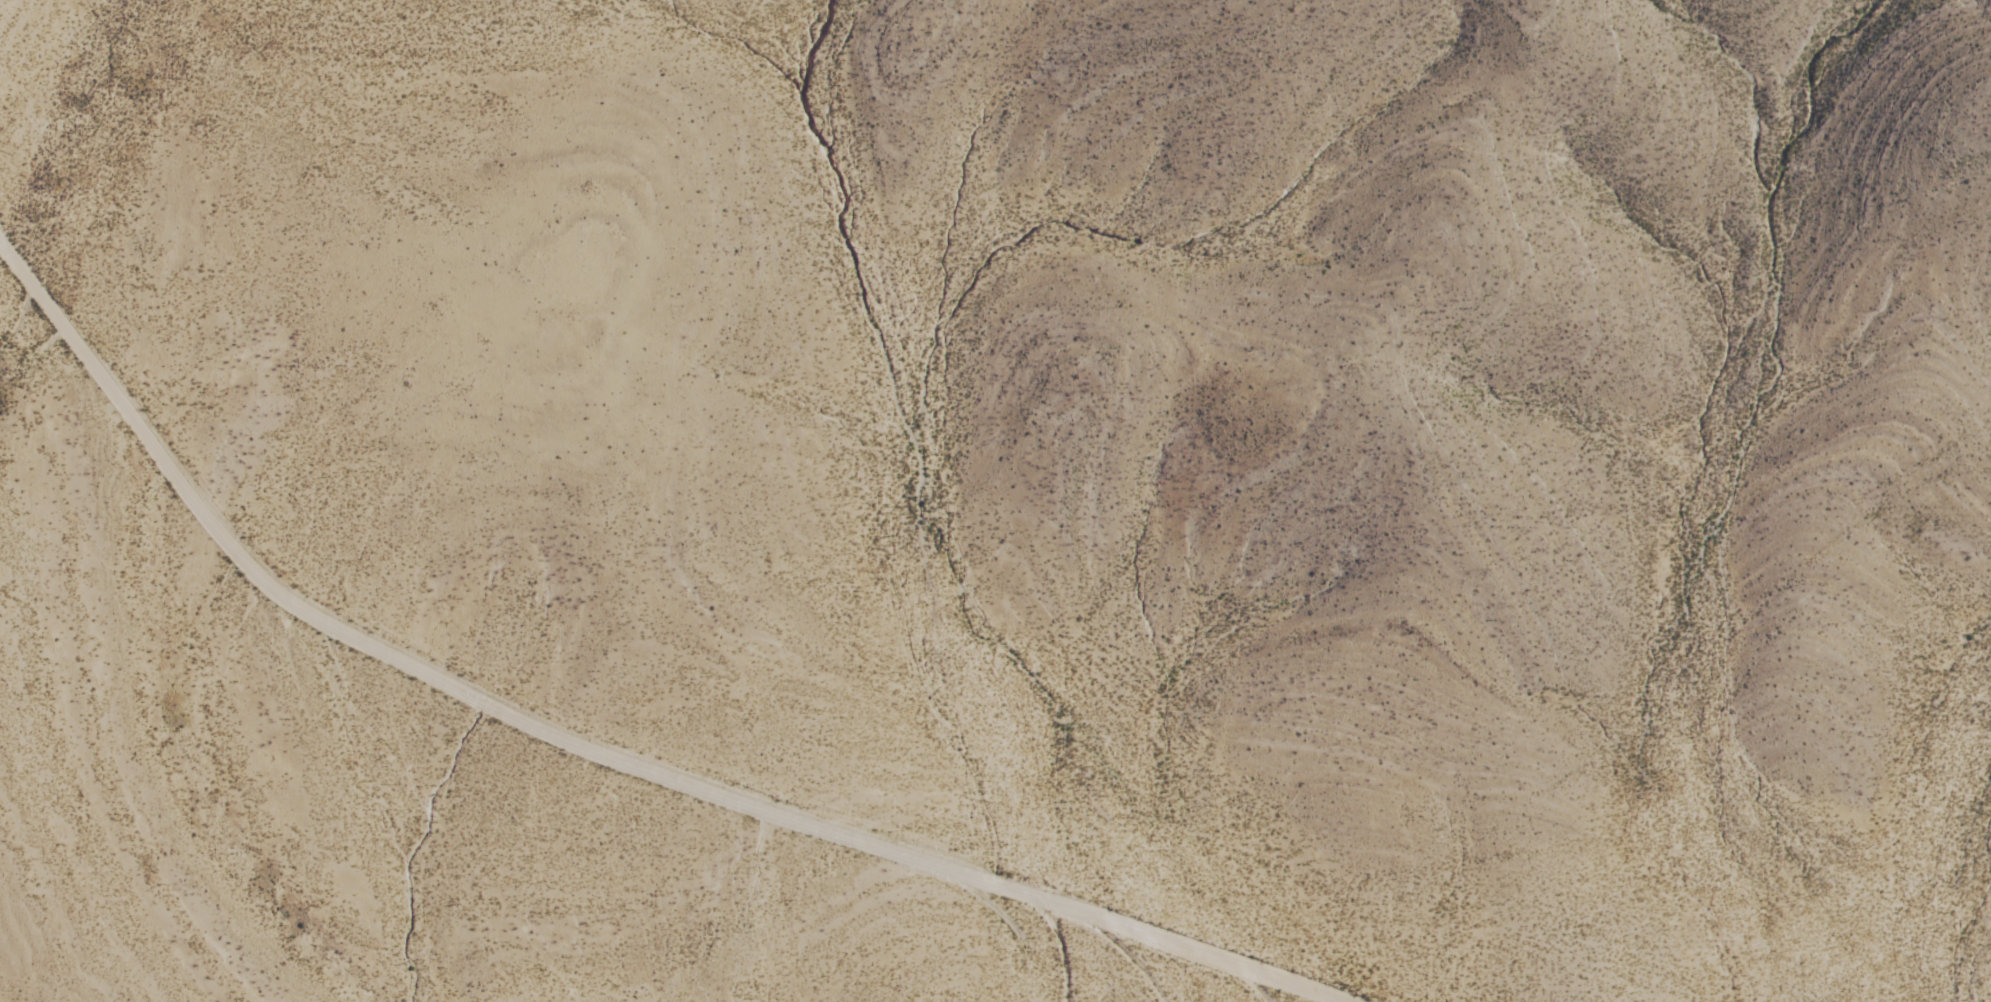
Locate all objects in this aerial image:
road: (589, 751)

